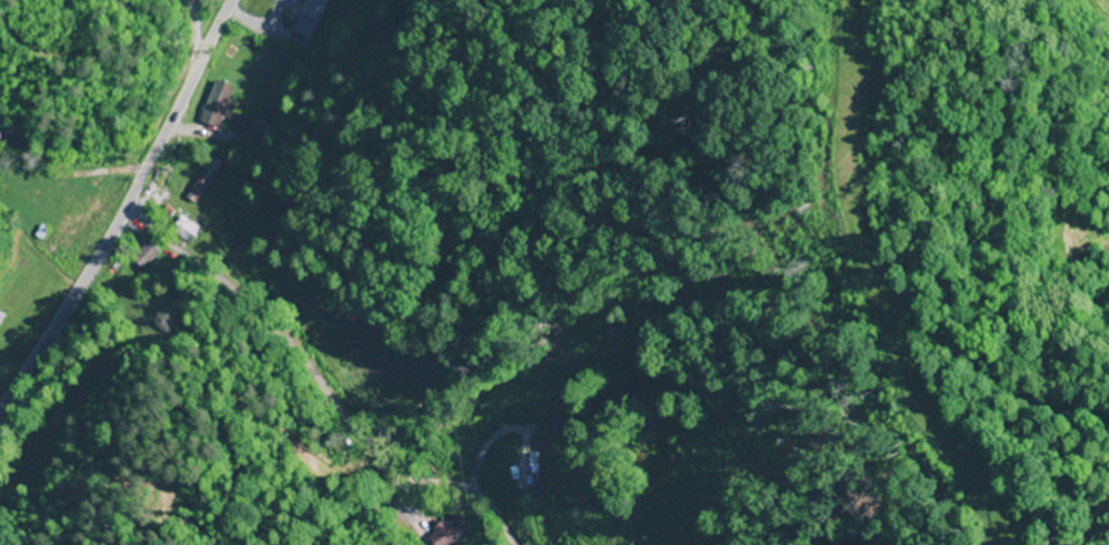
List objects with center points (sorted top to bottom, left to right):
building: (306, 17)
building: (213, 104)
road: (122, 205)
building: (181, 229)
building: (142, 254)
road: (314, 383)
building: (447, 532)

